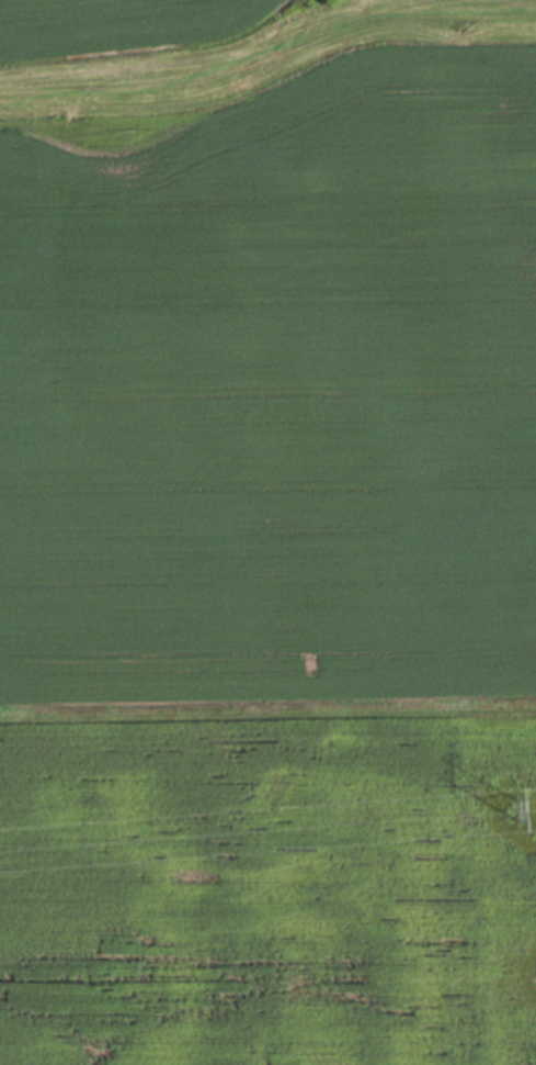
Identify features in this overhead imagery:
power tower: (517, 808)

